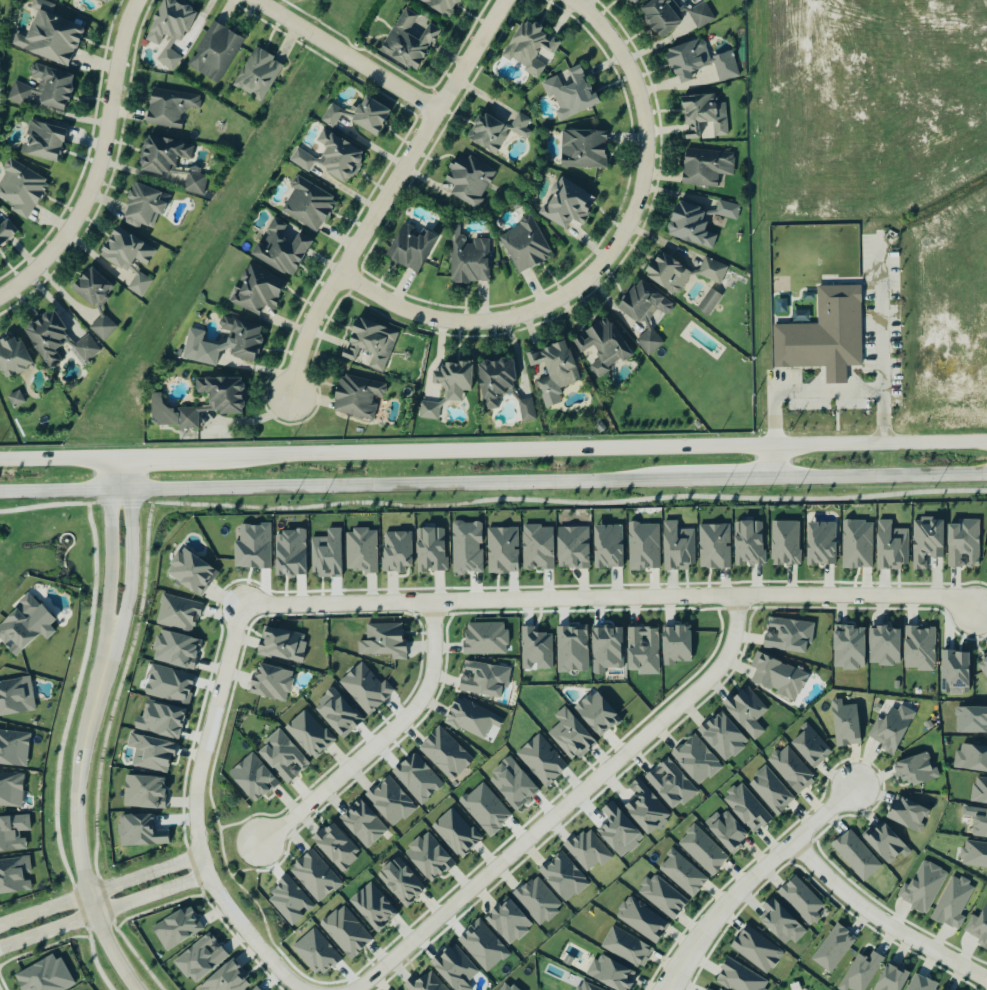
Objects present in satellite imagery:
building: (103, 1)
building: (106, 1)
building: (631, 2)
building: (440, 5)
building: (699, 16)
building: (659, 17)
building: (168, 32)
building: (52, 40)
building: (407, 42)
building: (529, 50)
building: (213, 53)
road: (348, 55)
road: (472, 55)
building: (693, 65)
building: (255, 75)
building: (42, 90)
building: (568, 94)
building: (167, 108)
building: (330, 117)
building: (368, 117)
building: (701, 118)
building: (518, 125)
building: (486, 134)
building: (41, 142)
building: (581, 150)
building: (162, 155)
building: (337, 158)
building: (300, 161)
road: (100, 166)
building: (705, 168)
building: (466, 181)
building: (193, 182)
building: (19, 189)
building: (142, 205)
building: (306, 205)
building: (565, 205)
building: (688, 225)
building: (5, 235)
building: (523, 246)
building: (409, 248)
road: (354, 249)
building: (279, 250)
building: (127, 259)
building: (466, 259)
road: (604, 260)
building: (710, 271)
building: (665, 275)
building: (91, 289)
building: (256, 291)
building: (710, 302)
building: (643, 314)
building: (100, 328)
building: (824, 335)
road: (882, 340)
building: (56, 342)
building: (233, 344)
building: (367, 345)
building: (600, 349)
building: (179, 353)
building: (11, 357)
building: (551, 369)
road: (837, 376)
building: (451, 380)
building: (493, 382)
road: (784, 393)
building: (220, 395)
building: (355, 398)
building: (15, 399)
building: (429, 410)
building: (525, 410)
building: (169, 415)
road: (493, 455)
road: (108, 477)
road: (130, 477)
road: (881, 478)
road: (716, 481)
road: (393, 486)
road: (119, 491)
road: (54, 493)
road: (119, 503)
building: (926, 541)
building: (748, 542)
building: (785, 543)
building: (820, 543)
building: (856, 544)
building: (962, 544)
building: (643, 545)
building: (252, 546)
building: (608, 546)
building: (677, 546)
building: (714, 546)
building: (890, 546)
building: (466, 547)
building: (537, 547)
building: (572, 547)
building: (430, 549)
building: (361, 550)
building: (396, 550)
building: (502, 550)
building: (289, 553)
building: (326, 553)
road: (110, 563)
road: (131, 565)
building: (189, 571)
road: (438, 583)
road: (609, 599)
building: (177, 612)
building: (24, 625)
building: (787, 635)
building: (485, 639)
building: (383, 641)
building: (281, 644)
building: (676, 644)
building: (883, 646)
building: (847, 647)
building: (571, 648)
building: (919, 648)
building: (175, 649)
building: (535, 649)
building: (606, 649)
building: (643, 650)
building: (983, 664)
building: (954, 672)
building: (777, 676)
building: (483, 678)
building: (271, 682)
building: (169, 684)
building: (365, 688)
building: (16, 696)
building: (746, 711)
building: (336, 713)
building: (597, 713)
building: (471, 718)
building: (971, 719)
building: (159, 720)
building: (845, 723)
road: (668, 724)
building: (890, 729)
building: (308, 734)
building: (570, 735)
building: (722, 736)
road: (380, 741)
building: (811, 747)
building: (13, 748)
road: (61, 749)
building: (150, 752)
road: (102, 754)
building: (444, 754)
building: (281, 756)
building: (971, 757)
building: (696, 759)
building: (541, 760)
road: (866, 760)
building: (915, 769)
building: (791, 770)
building: (253, 778)
building: (416, 778)
building: (512, 783)
building: (670, 784)
building: (979, 790)
building: (143, 791)
building: (771, 791)
building: (389, 801)
road: (565, 805)
building: (746, 807)
building: (645, 808)
building: (485, 809)
road: (196, 812)
building: (907, 814)
road: (77, 816)
building: (978, 822)
building: (362, 824)
building: (140, 830)
building: (618, 830)
building: (727, 830)
building: (13, 832)
building: (455, 833)
building: (885, 843)
building: (336, 846)
building: (587, 850)
building: (702, 850)
building: (974, 854)
building: (855, 855)
building: (428, 857)
building: (682, 873)
road: (144, 874)
building: (15, 875)
building: (314, 876)
building: (563, 877)
road: (811, 877)
road: (752, 878)
building: (400, 882)
building: (923, 886)
road: (442, 890)
road: (151, 895)
building: (662, 896)
building: (538, 900)
building: (801, 900)
building: (289, 901)
building: (952, 902)
road: (211, 905)
building: (373, 907)
road: (44, 910)
building: (642, 919)
building: (508, 922)
building: (780, 922)
road: (880, 922)
building: (176, 927)
building: (978, 927)
road: (47, 932)
building: (346, 932)
building: (482, 946)
building: (627, 947)
building: (833, 948)
building: (756, 949)
building: (200, 958)
building: (568, 961)
building: (454, 968)
building: (860, 972)
building: (611, 973)
building: (44, 975)
building: (739, 977)
building: (890, 978)
building: (225, 979)
building: (424, 983)
building: (922, 984)
building: (506, 987)
building: (585, 987)
road: (667, 987)
road: (669, 987)
building: (253, 989)
building: (706, 989)
building: (939, 989)

